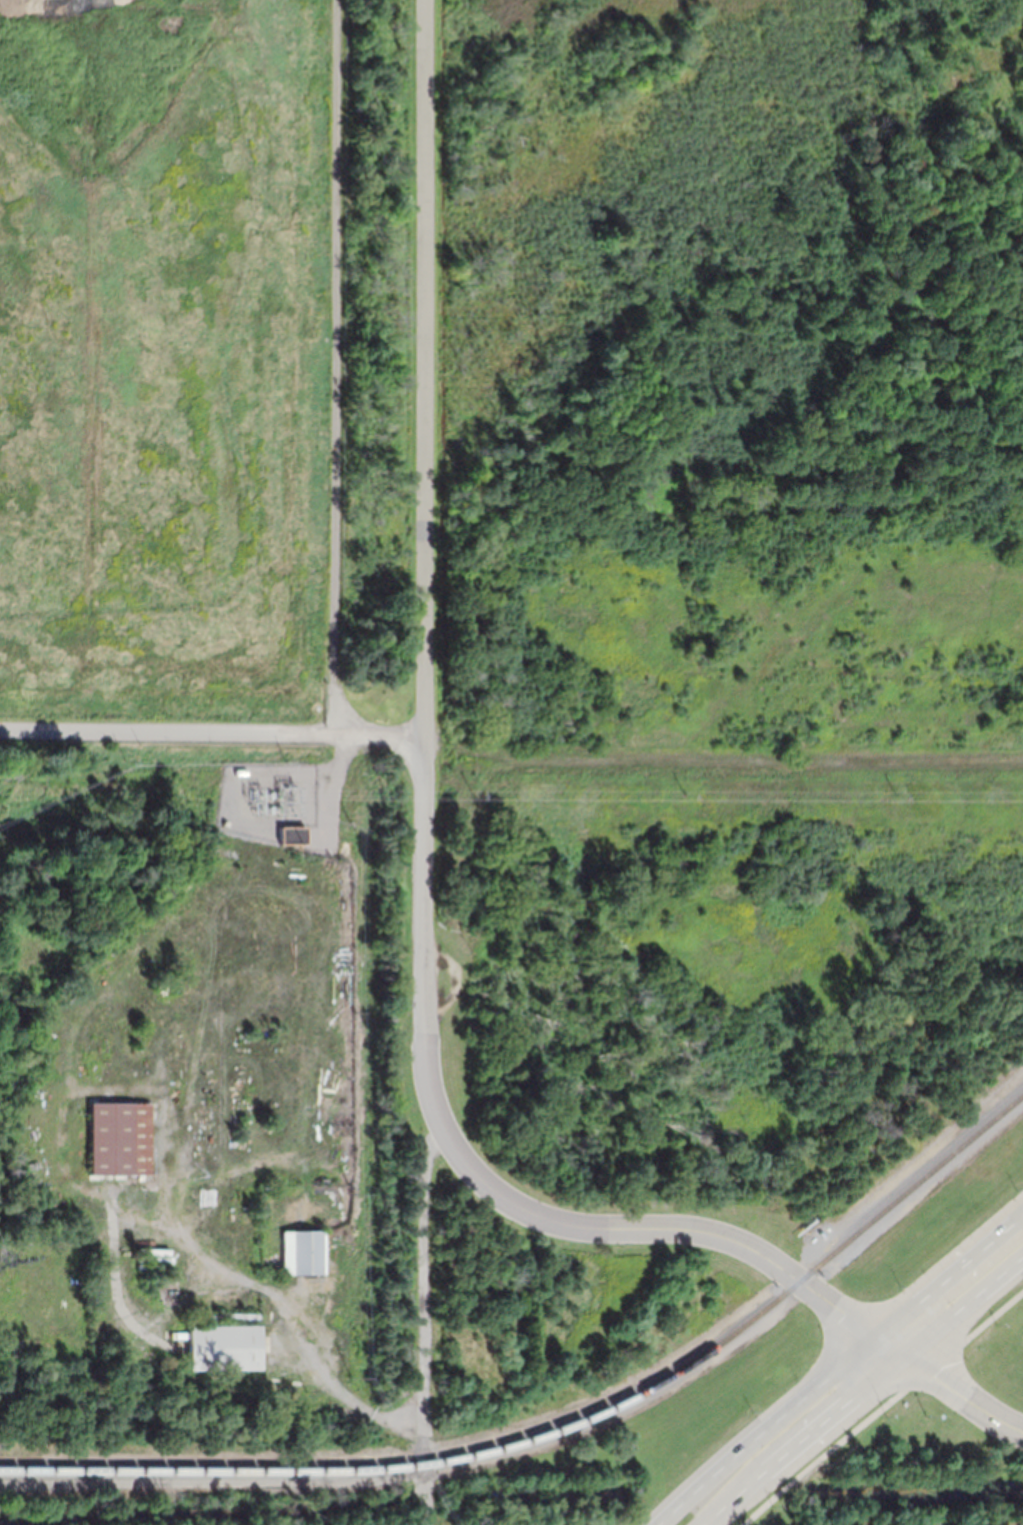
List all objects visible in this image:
road: (420, 369)
road: (234, 734)
building: (292, 833)
building: (119, 1137)
building: (323, 1181)
road: (484, 1187)
building: (302, 1251)
road: (422, 1325)
building: (222, 1341)
road: (838, 1366)
road: (861, 1388)
road: (962, 1395)
road: (883, 1407)
road: (606, 1416)
railway: (563, 1423)
road: (188, 1482)

